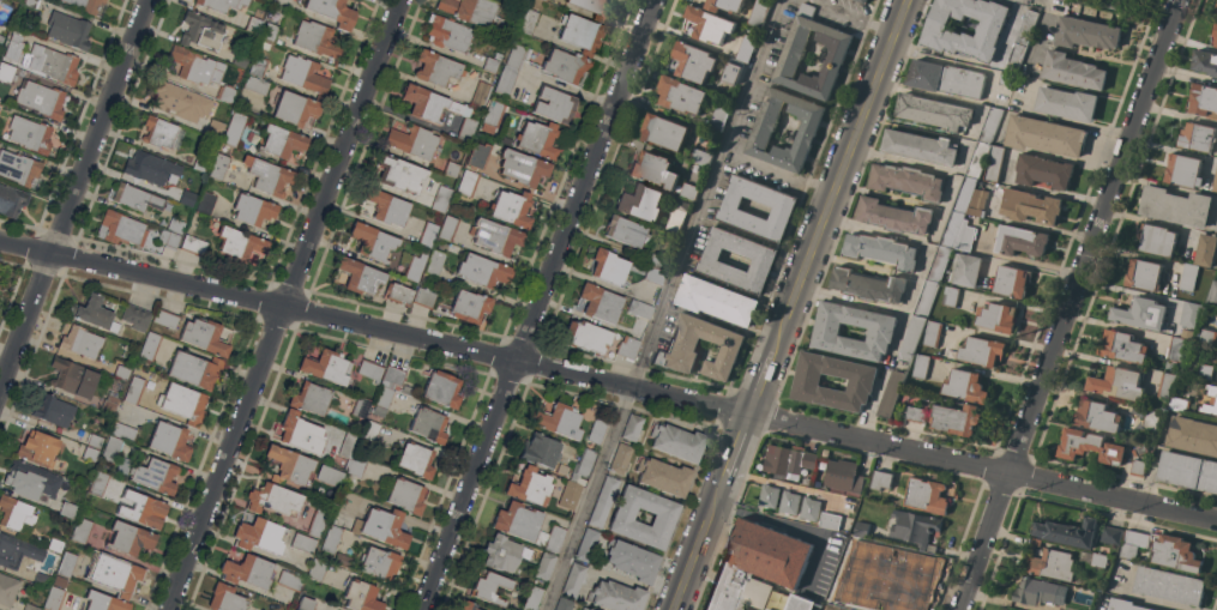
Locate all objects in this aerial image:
building: (544, 0)
building: (745, 0)
building: (861, 1)
building: (222, 4)
building: (8, 5)
building: (724, 5)
building: (89, 6)
building: (595, 8)
building: (469, 10)
building: (332, 11)
building: (805, 11)
building: (758, 13)
building: (1216, 14)
building: (528, 20)
building: (253, 25)
building: (707, 25)
building: (502, 28)
building: (68, 29)
building: (201, 30)
building: (17, 32)
building: (270, 32)
building: (448, 32)
building: (580, 32)
building: (940, 34)
building: (1085, 34)
building: (1215, 34)
building: (315, 38)
building: (1022, 38)
building: (1, 40)
building: (745, 49)
building: (498, 55)
building: (791, 55)
building: (520, 56)
building: (240, 59)
building: (693, 62)
building: (1205, 62)
building: (53, 65)
building: (490, 65)
building: (257, 66)
building: (565, 66)
building: (199, 67)
building: (435, 67)
building: (731, 71)
building: (1072, 71)
building: (6, 72)
building: (305, 74)
building: (945, 79)
building: (1005, 79)
building: (508, 84)
building: (255, 85)
building: (225, 93)
building: (480, 95)
building: (680, 95)
building: (41, 98)
building: (1203, 99)
building: (180, 101)
building: (1066, 103)
building: (555, 105)
building: (296, 108)
building: (438, 109)
building: (933, 111)
building: (492, 116)
building: (718, 117)
building: (989, 125)
building: (764, 126)
building: (215, 127)
building: (234, 128)
building: (158, 132)
building: (663, 132)
building: (30, 134)
building: (1044, 135)
building: (1197, 137)
building: (537, 139)
building: (412, 140)
building: (281, 141)
building: (918, 147)
building: (476, 156)
building: (698, 156)
building: (976, 161)
building: (203, 163)
building: (219, 164)
building: (994, 164)
building: (150, 167)
building: (522, 167)
building: (18, 168)
building: (452, 169)
road: (777, 169)
building: (653, 170)
building: (1043, 171)
building: (1182, 171)
building: (399, 174)
road: (837, 175)
building: (267, 176)
building: (905, 181)
building: (468, 183)
building: (1215, 183)
building: (688, 192)
road: (73, 193)
road: (704, 194)
building: (137, 197)
building: (187, 198)
building: (441, 198)
building: (12, 200)
building: (206, 201)
building: (640, 203)
building: (977, 204)
building: (1030, 206)
building: (1175, 206)
building: (387, 207)
building: (511, 207)
building: (783, 209)
building: (253, 210)
building: (957, 212)
building: (893, 217)
building: (676, 218)
road: (941, 219)
building: (176, 225)
building: (447, 228)
building: (121, 229)
building: (1216, 229)
building: (625, 231)
building: (428, 234)
building: (495, 236)
building: (964, 237)
building: (169, 238)
building: (1157, 240)
building: (372, 241)
building: (1019, 241)
building: (239, 242)
building: (194, 244)
building: (880, 250)
building: (1205, 250)
building: (655, 260)
building: (763, 260)
building: (435, 261)
building: (938, 265)
building: (415, 267)
building: (608, 267)
building: (965, 270)
building: (482, 271)
building: (653, 274)
building: (1143, 274)
building: (360, 276)
building: (1187, 278)
building: (1011, 282)
building: (867, 286)
building: (397, 294)
building: (950, 296)
building: (1212, 296)
building: (424, 297)
building: (924, 298)
building: (716, 301)
building: (600, 302)
road: (284, 304)
road: (536, 304)
road: (1070, 304)
building: (469, 306)
building: (640, 308)
building: (94, 313)
building: (1140, 314)
building: (1189, 315)
building: (135, 316)
building: (165, 316)
building: (996, 318)
building: (880, 332)
building: (1186, 333)
building: (932, 334)
building: (204, 336)
building: (585, 336)
building: (1207, 337)
building: (910, 339)
building: (80, 342)
building: (149, 346)
building: (627, 348)
building: (1121, 348)
building: (681, 349)
building: (1177, 350)
building: (982, 351)
building: (947, 354)
road: (504, 357)
building: (325, 367)
building: (920, 367)
building: (194, 369)
building: (121, 372)
building: (369, 372)
building: (1204, 372)
building: (73, 376)
building: (391, 378)
road: (760, 382)
building: (806, 383)
building: (1116, 383)
building: (964, 386)
building: (1165, 386)
building: (441, 388)
building: (134, 389)
building: (408, 391)
building: (890, 394)
building: (112, 395)
building: (309, 398)
building: (1211, 400)
building: (381, 401)
building: (182, 403)
building: (1179, 404)
building: (361, 407)
building: (53, 410)
building: (916, 415)
building: (1096, 417)
building: (956, 419)
building: (1150, 419)
building: (559, 421)
building: (428, 424)
building: (633, 428)
building: (597, 429)
building: (123, 430)
building: (370, 431)
building: (301, 433)
building: (1192, 435)
building: (169, 440)
building: (95, 441)
building: (677, 441)
building: (348, 445)
building: (1089, 447)
building: (38, 448)
building: (110, 448)
building: (541, 449)
building: (1139, 451)
building: (90, 453)
road: (733, 454)
building: (621, 458)
building: (416, 459)
building: (787, 463)
building: (355, 464)
building: (289, 465)
building: (583, 466)
building: (122, 467)
building: (1137, 467)
building: (1188, 471)
building: (155, 475)
building: (330, 475)
building: (663, 476)
building: (843, 476)
building: (34, 479)
building: (881, 479)
building: (97, 483)
building: (529, 485)
building: (406, 495)
building: (570, 495)
building: (767, 496)
building: (924, 496)
road: (1113, 496)
building: (272, 499)
road: (586, 499)
building: (602, 502)
building: (789, 502)
building: (143, 509)
building: (809, 509)
building: (68, 511)
building: (17, 515)
building: (1054, 517)
building: (663, 518)
building: (518, 520)
building: (830, 521)
building: (317, 523)
building: (374, 526)
building: (914, 527)
building: (861, 529)
building: (80, 530)
building: (1066, 532)
building: (258, 534)
building: (1110, 536)
building: (129, 538)
building: (331, 538)
building: (550, 538)
building: (303, 543)
building: (56, 544)
building: (1132, 544)
building: (586, 545)
building: (17, 551)
building: (504, 552)
road: (693, 552)
building: (1175, 554)
building: (343, 560)
building: (632, 560)
building: (1094, 560)
building: (379, 563)
building: (847, 563)
building: (902, 563)
building: (1048, 563)
building: (67, 564)
building: (544, 564)
building: (757, 566)
building: (318, 569)
building: (248, 570)
building: (115, 574)
building: (42, 579)
building: (573, 579)
building: (289, 580)
building: (60, 581)
building: (1168, 586)
building: (489, 587)
building: (7, 590)
building: (1038, 592)
building: (361, 596)
building: (532, 596)
building: (616, 596)
building: (891, 596)
building: (54, 598)
building: (225, 598)
road: (1137, 598)
building: (843, 600)
building: (104, 602)
building: (306, 603)
building: (800, 603)
building: (564, 604)
building: (468, 605)
building: (1123, 605)
building: (31, 606)
building: (585, 609)
building: (766, 609)
building: (769, 609)
building: (1007, 609)

